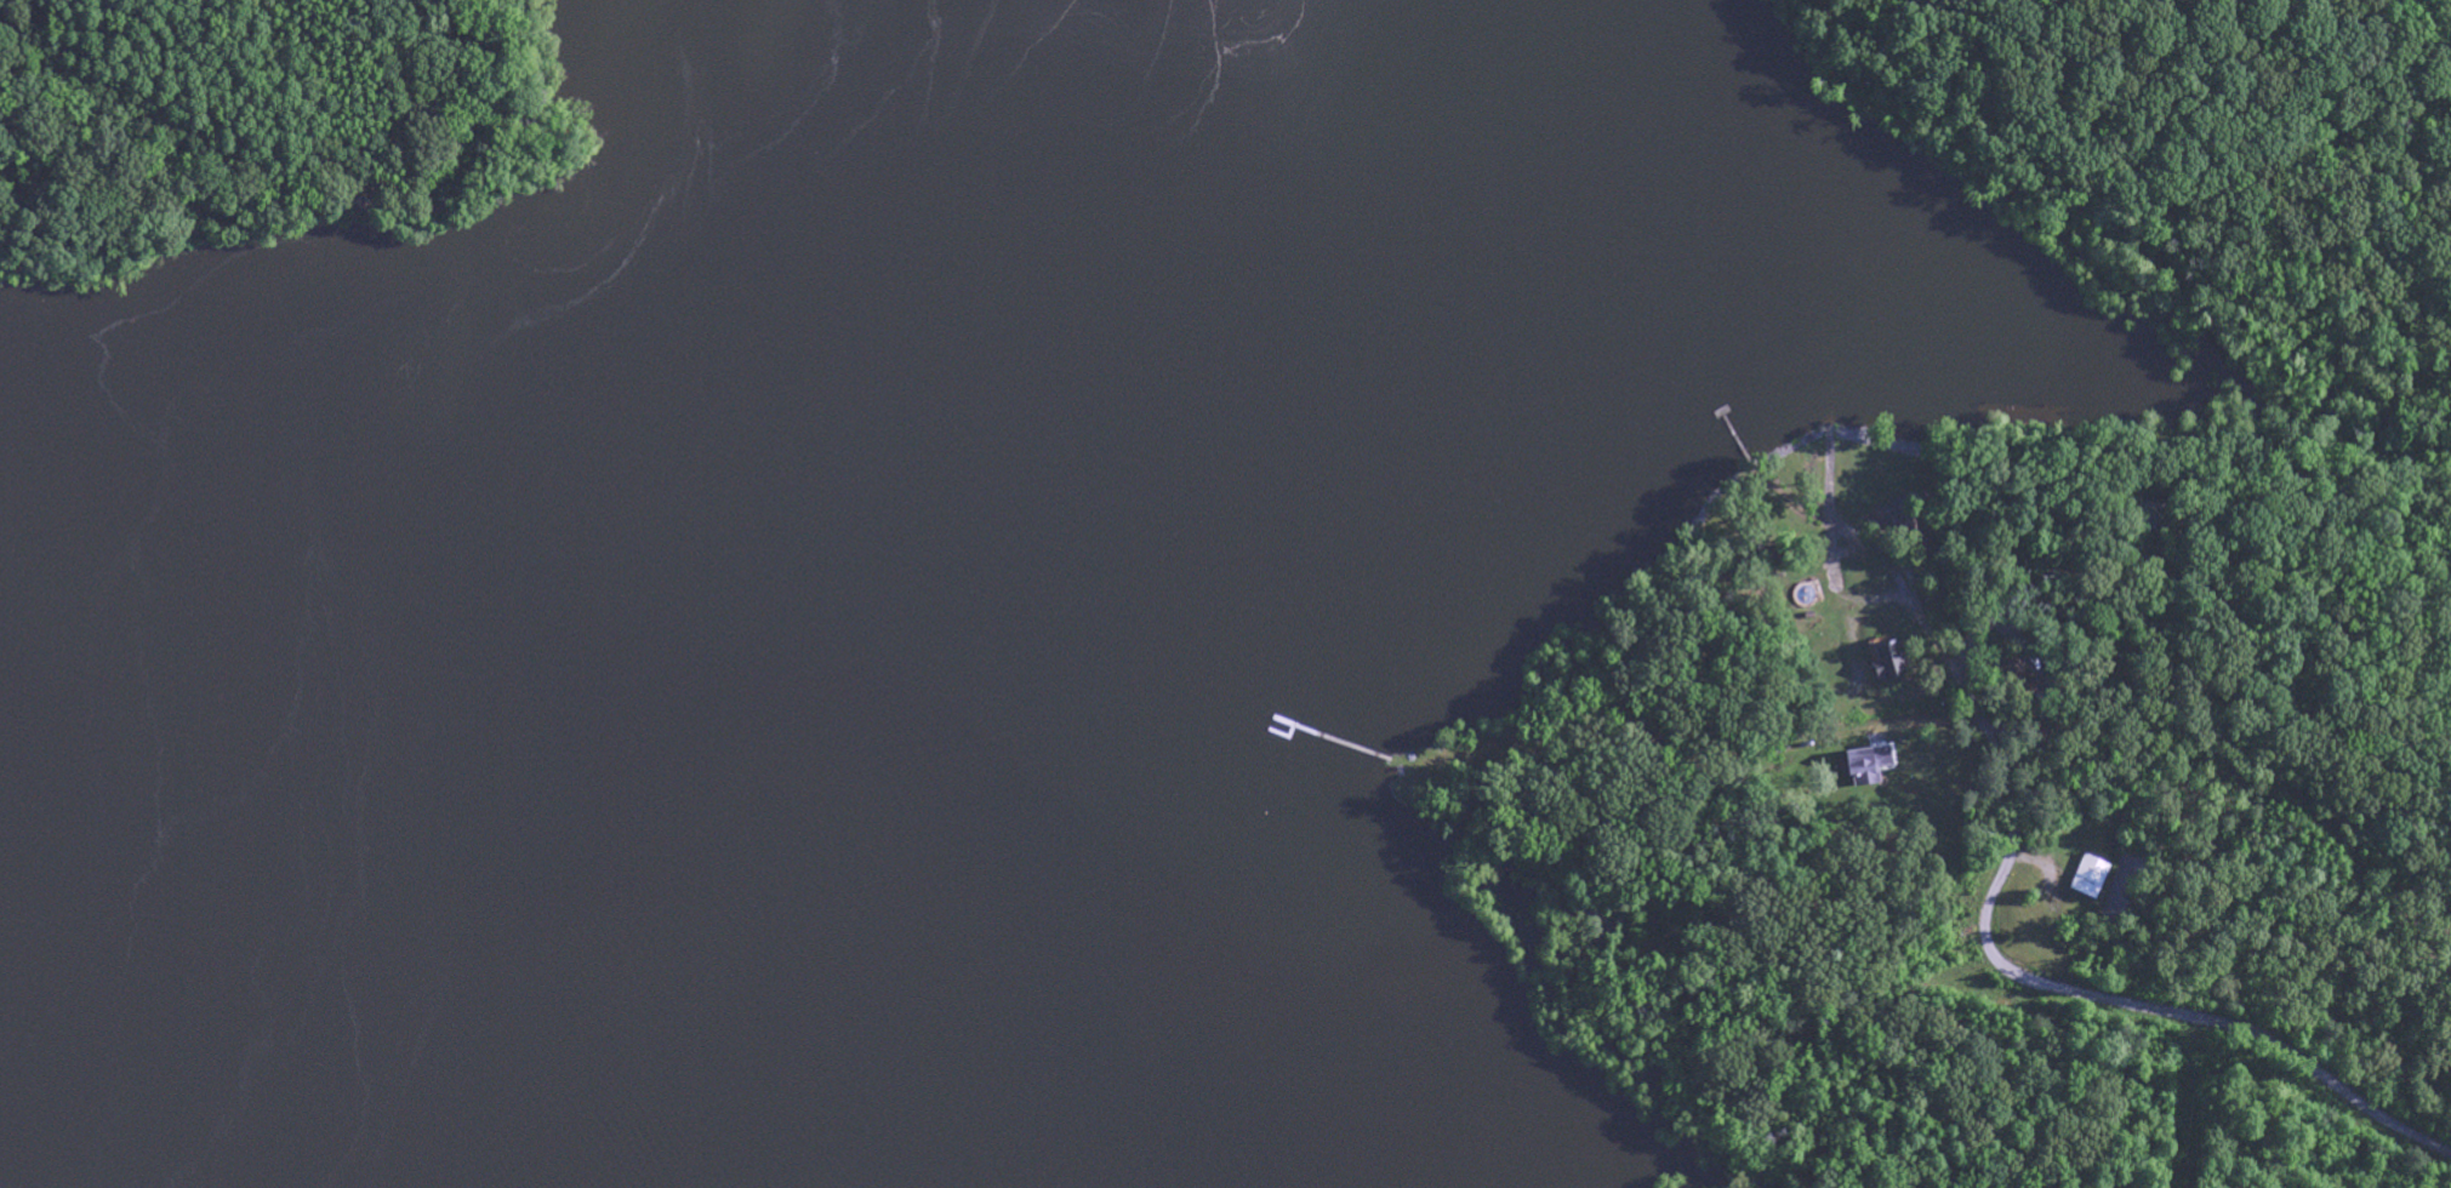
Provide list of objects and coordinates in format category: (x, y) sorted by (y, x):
road: (2019, 456)
road: (1829, 458)
river: (565, 593)
building: (1891, 662)
pier: (1283, 736)
pier: (1327, 737)
building: (1870, 766)
road: (2010, 798)
building: (2093, 878)
road: (1987, 943)
road: (1887, 978)

